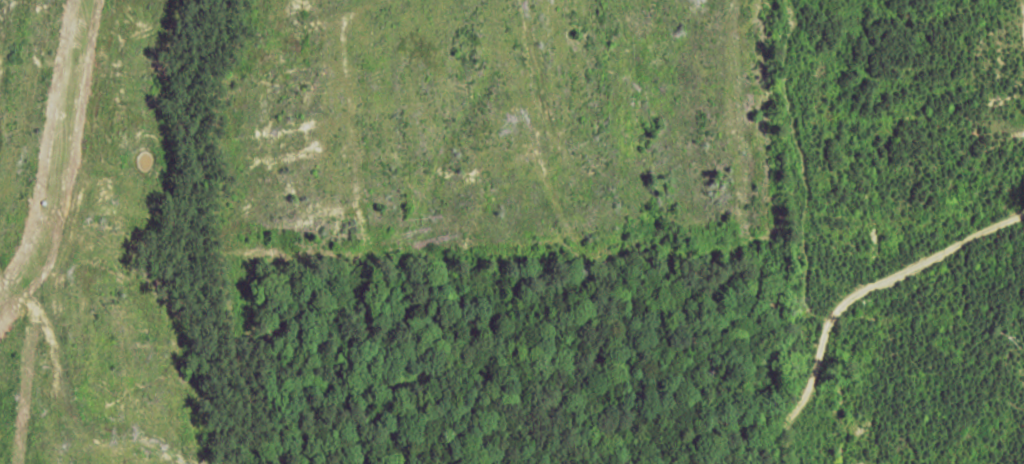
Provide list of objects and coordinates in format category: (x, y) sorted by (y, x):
road: (872, 331)

